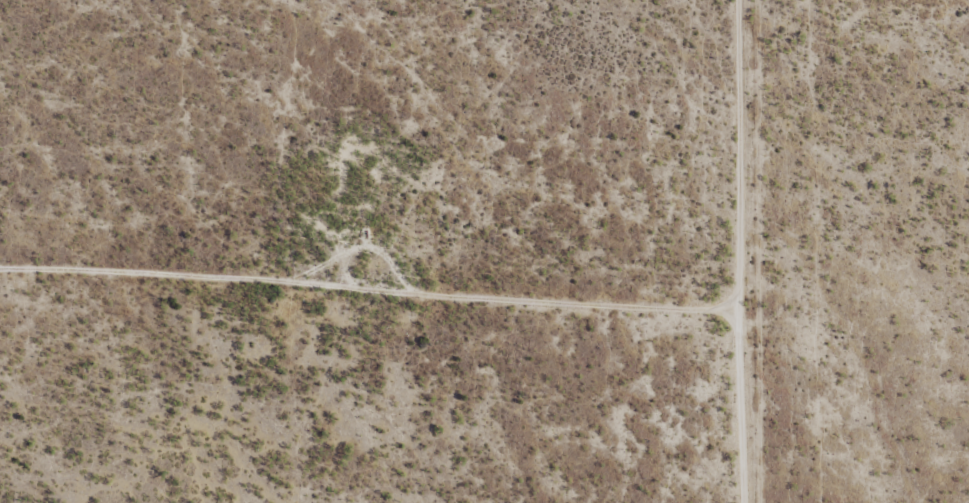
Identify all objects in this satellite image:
road: (742, 251)

